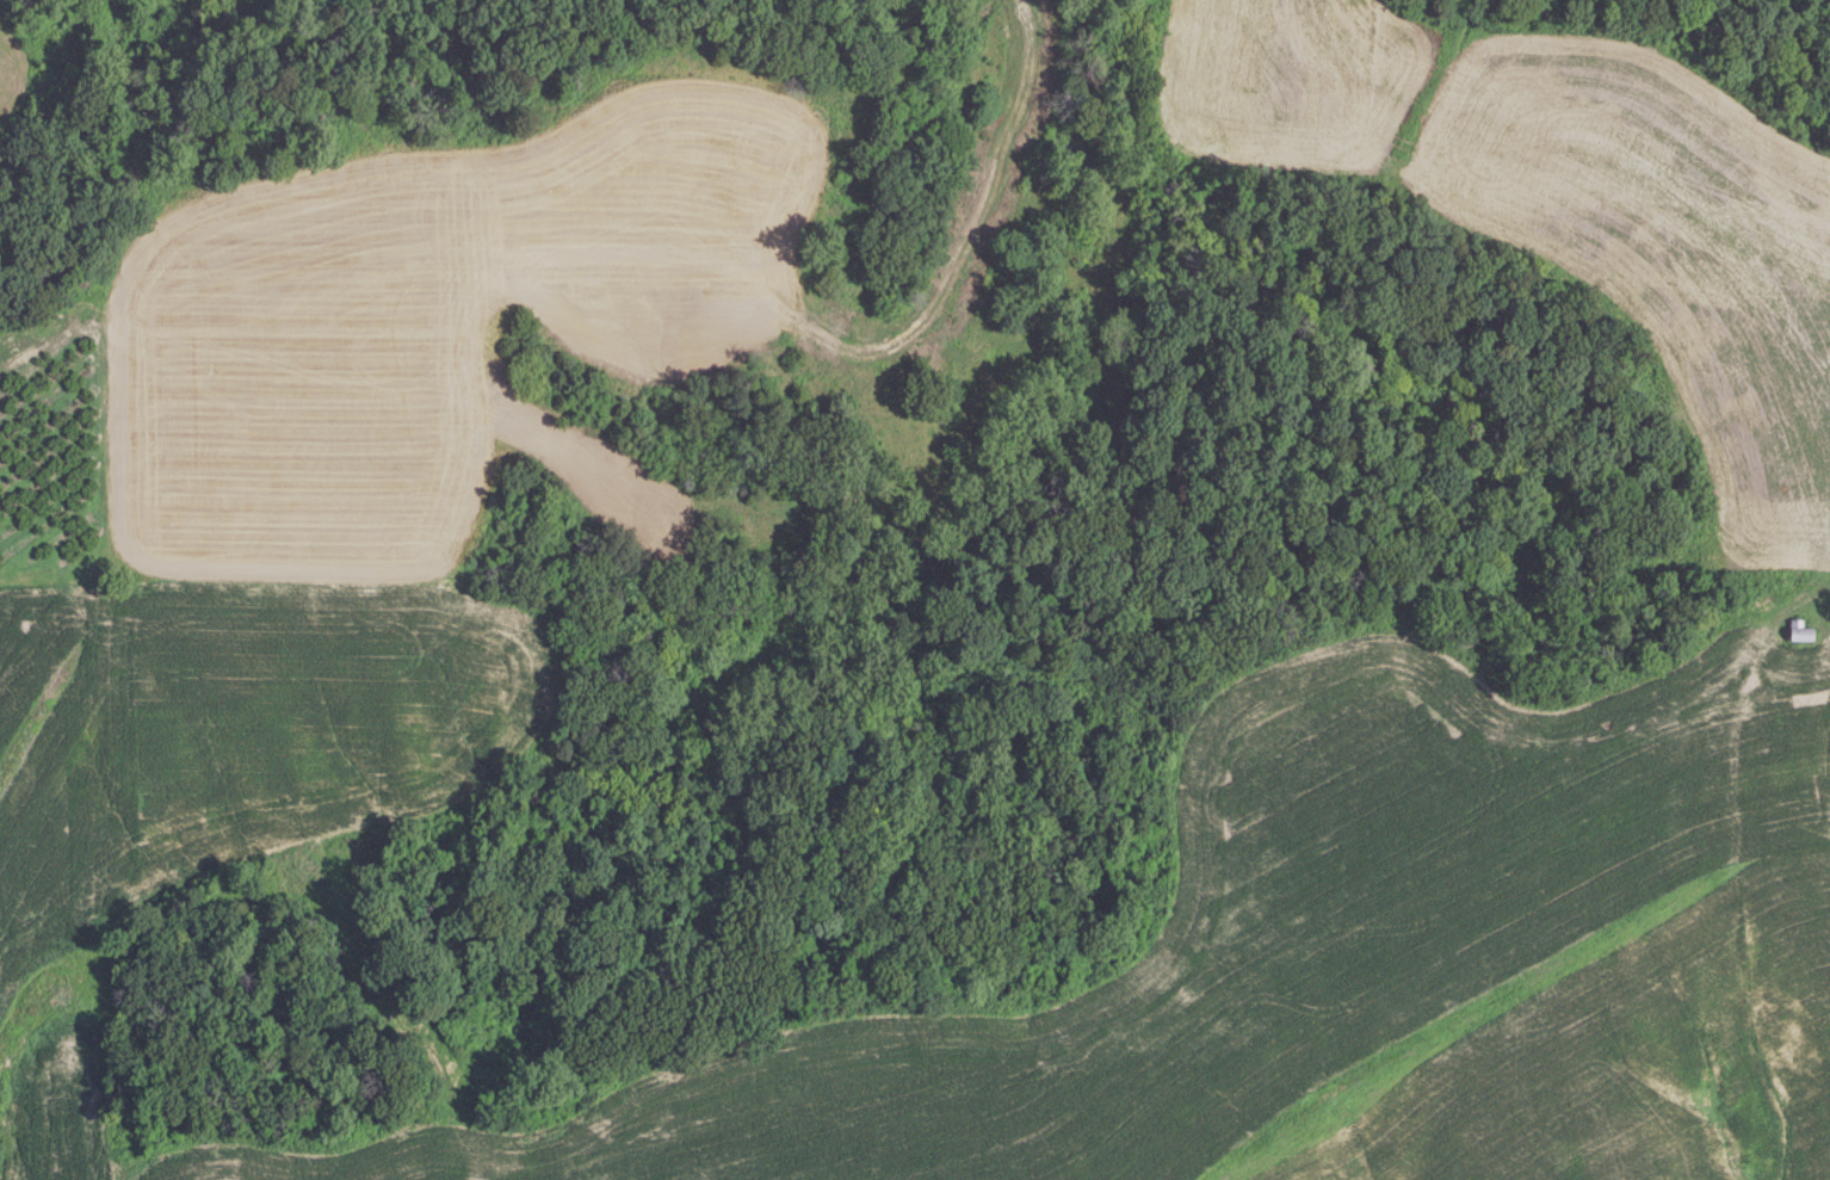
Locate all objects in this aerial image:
building: (1797, 632)
crop: (1315, 964)

